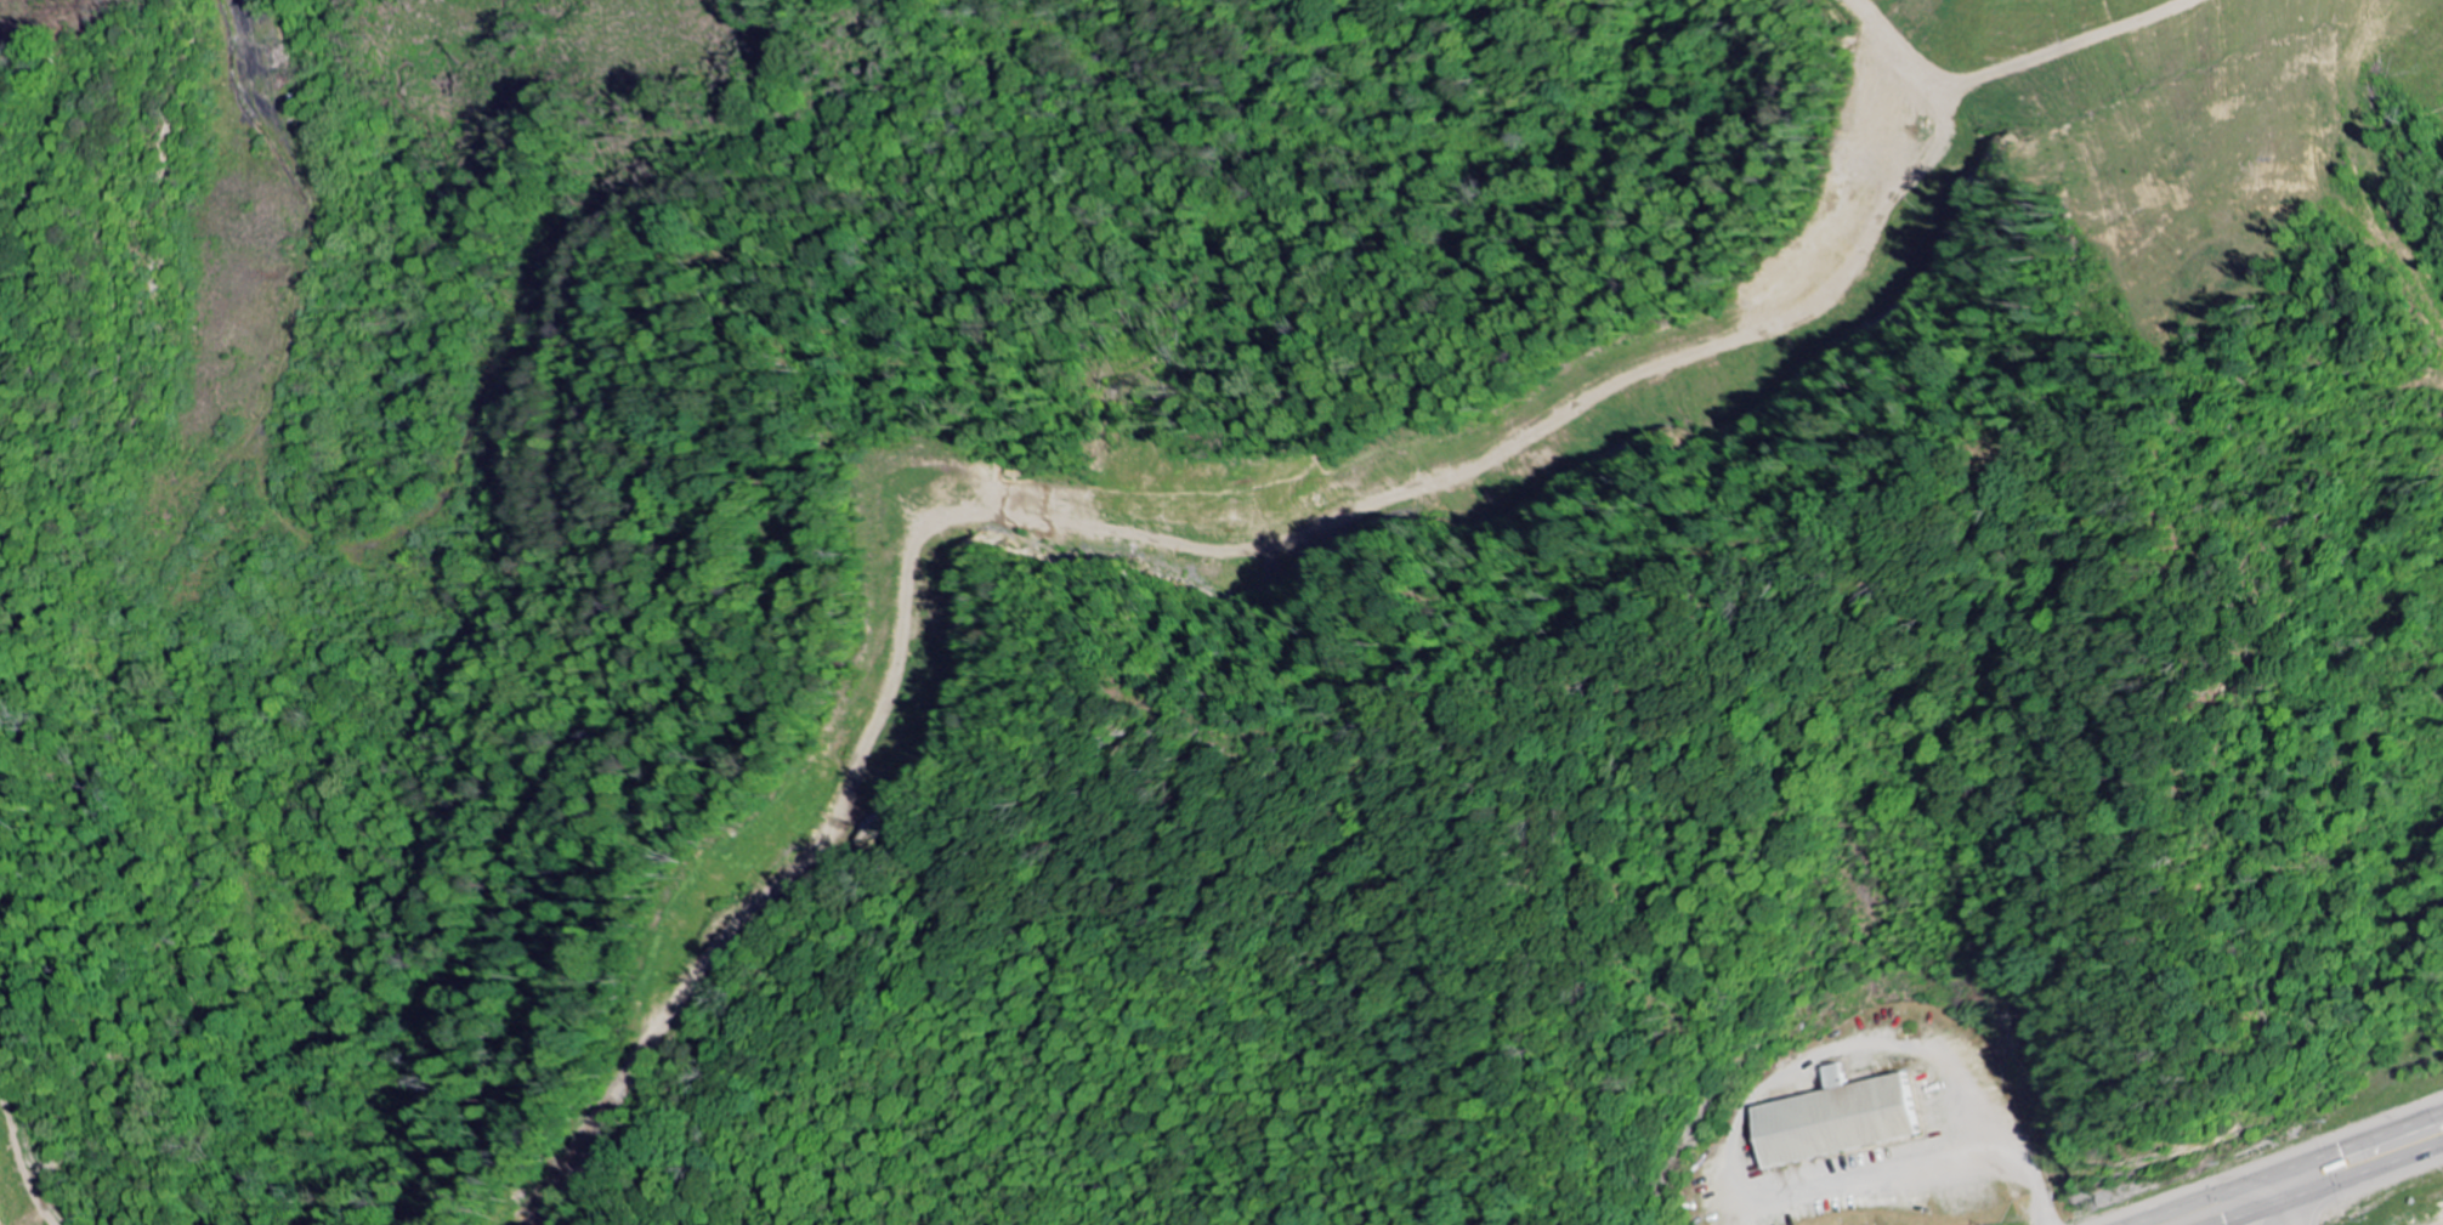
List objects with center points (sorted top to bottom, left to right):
road: (330, 212)
building: (1843, 1121)
road: (2279, 1166)
road: (2337, 1186)
road: (2286, 1196)

